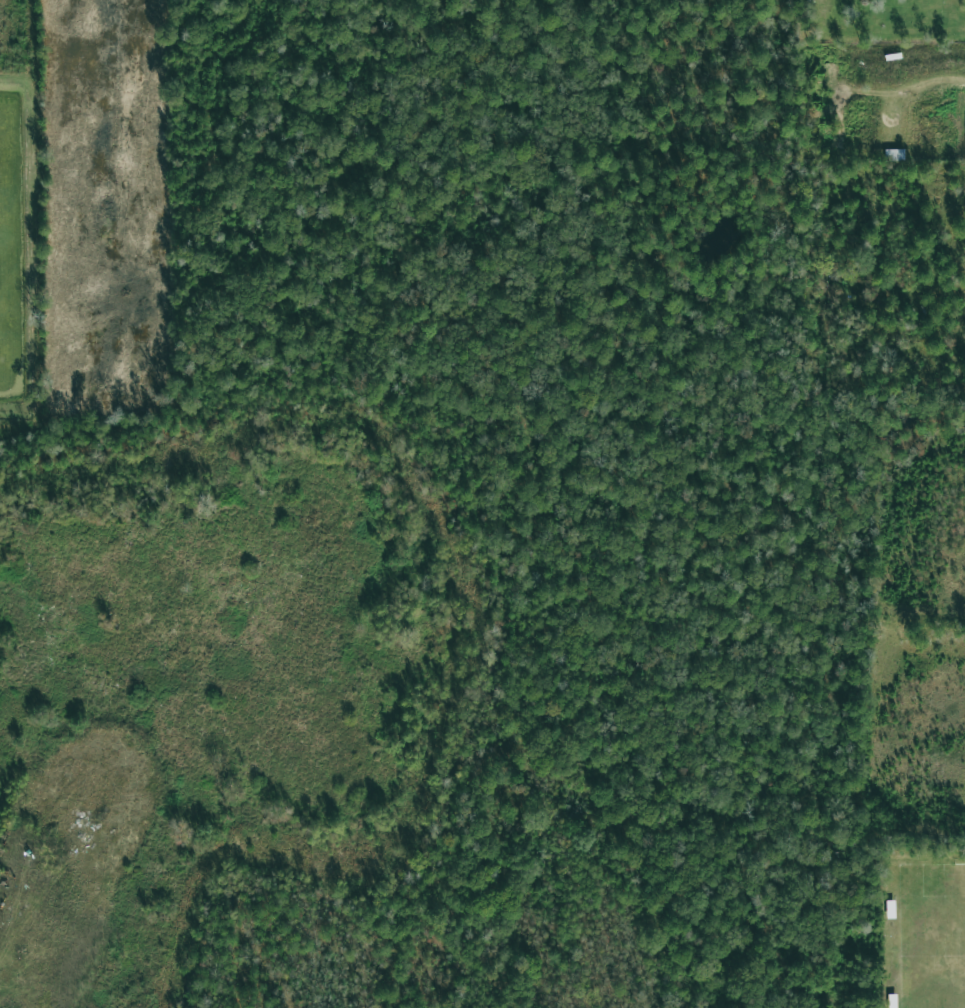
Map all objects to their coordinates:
building: (894, 154)
park: (931, 936)

